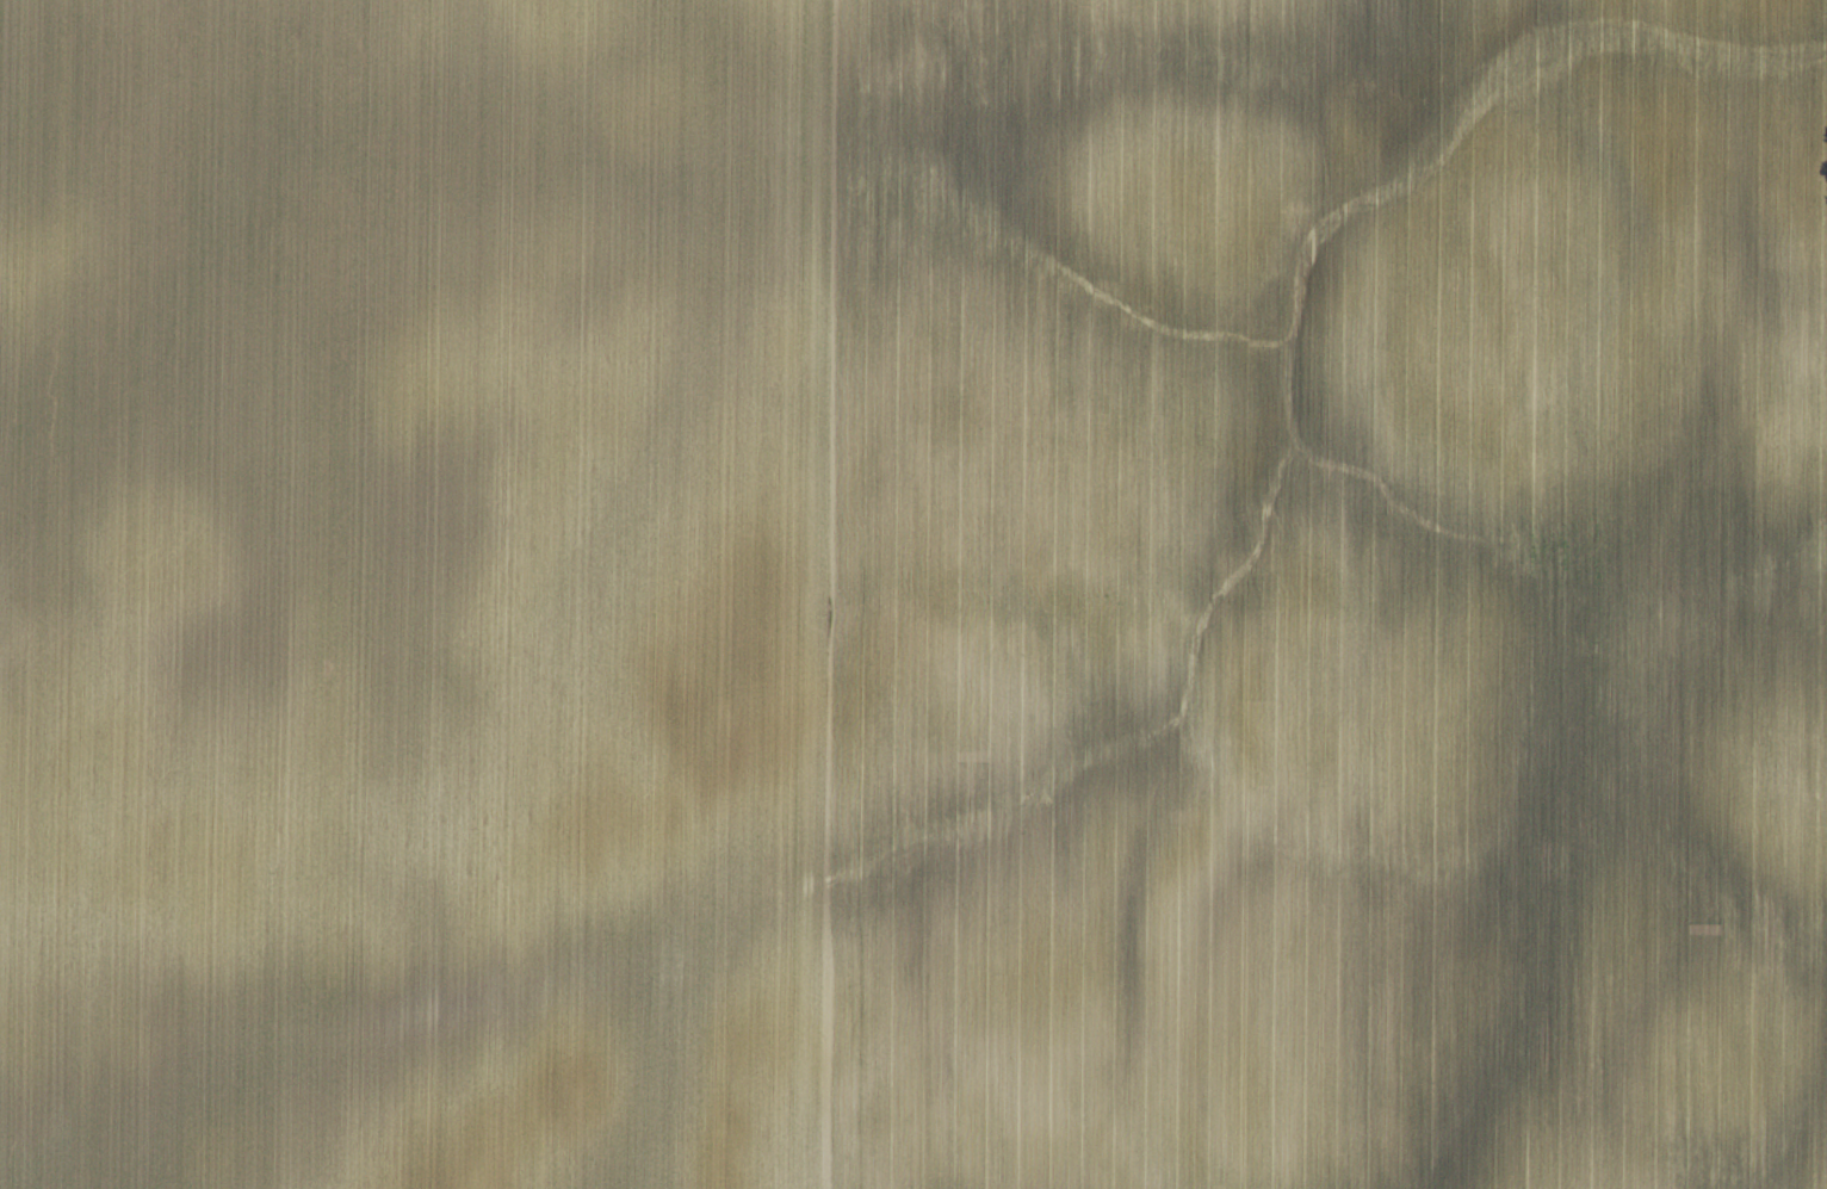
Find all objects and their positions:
crop: (913, 594)

